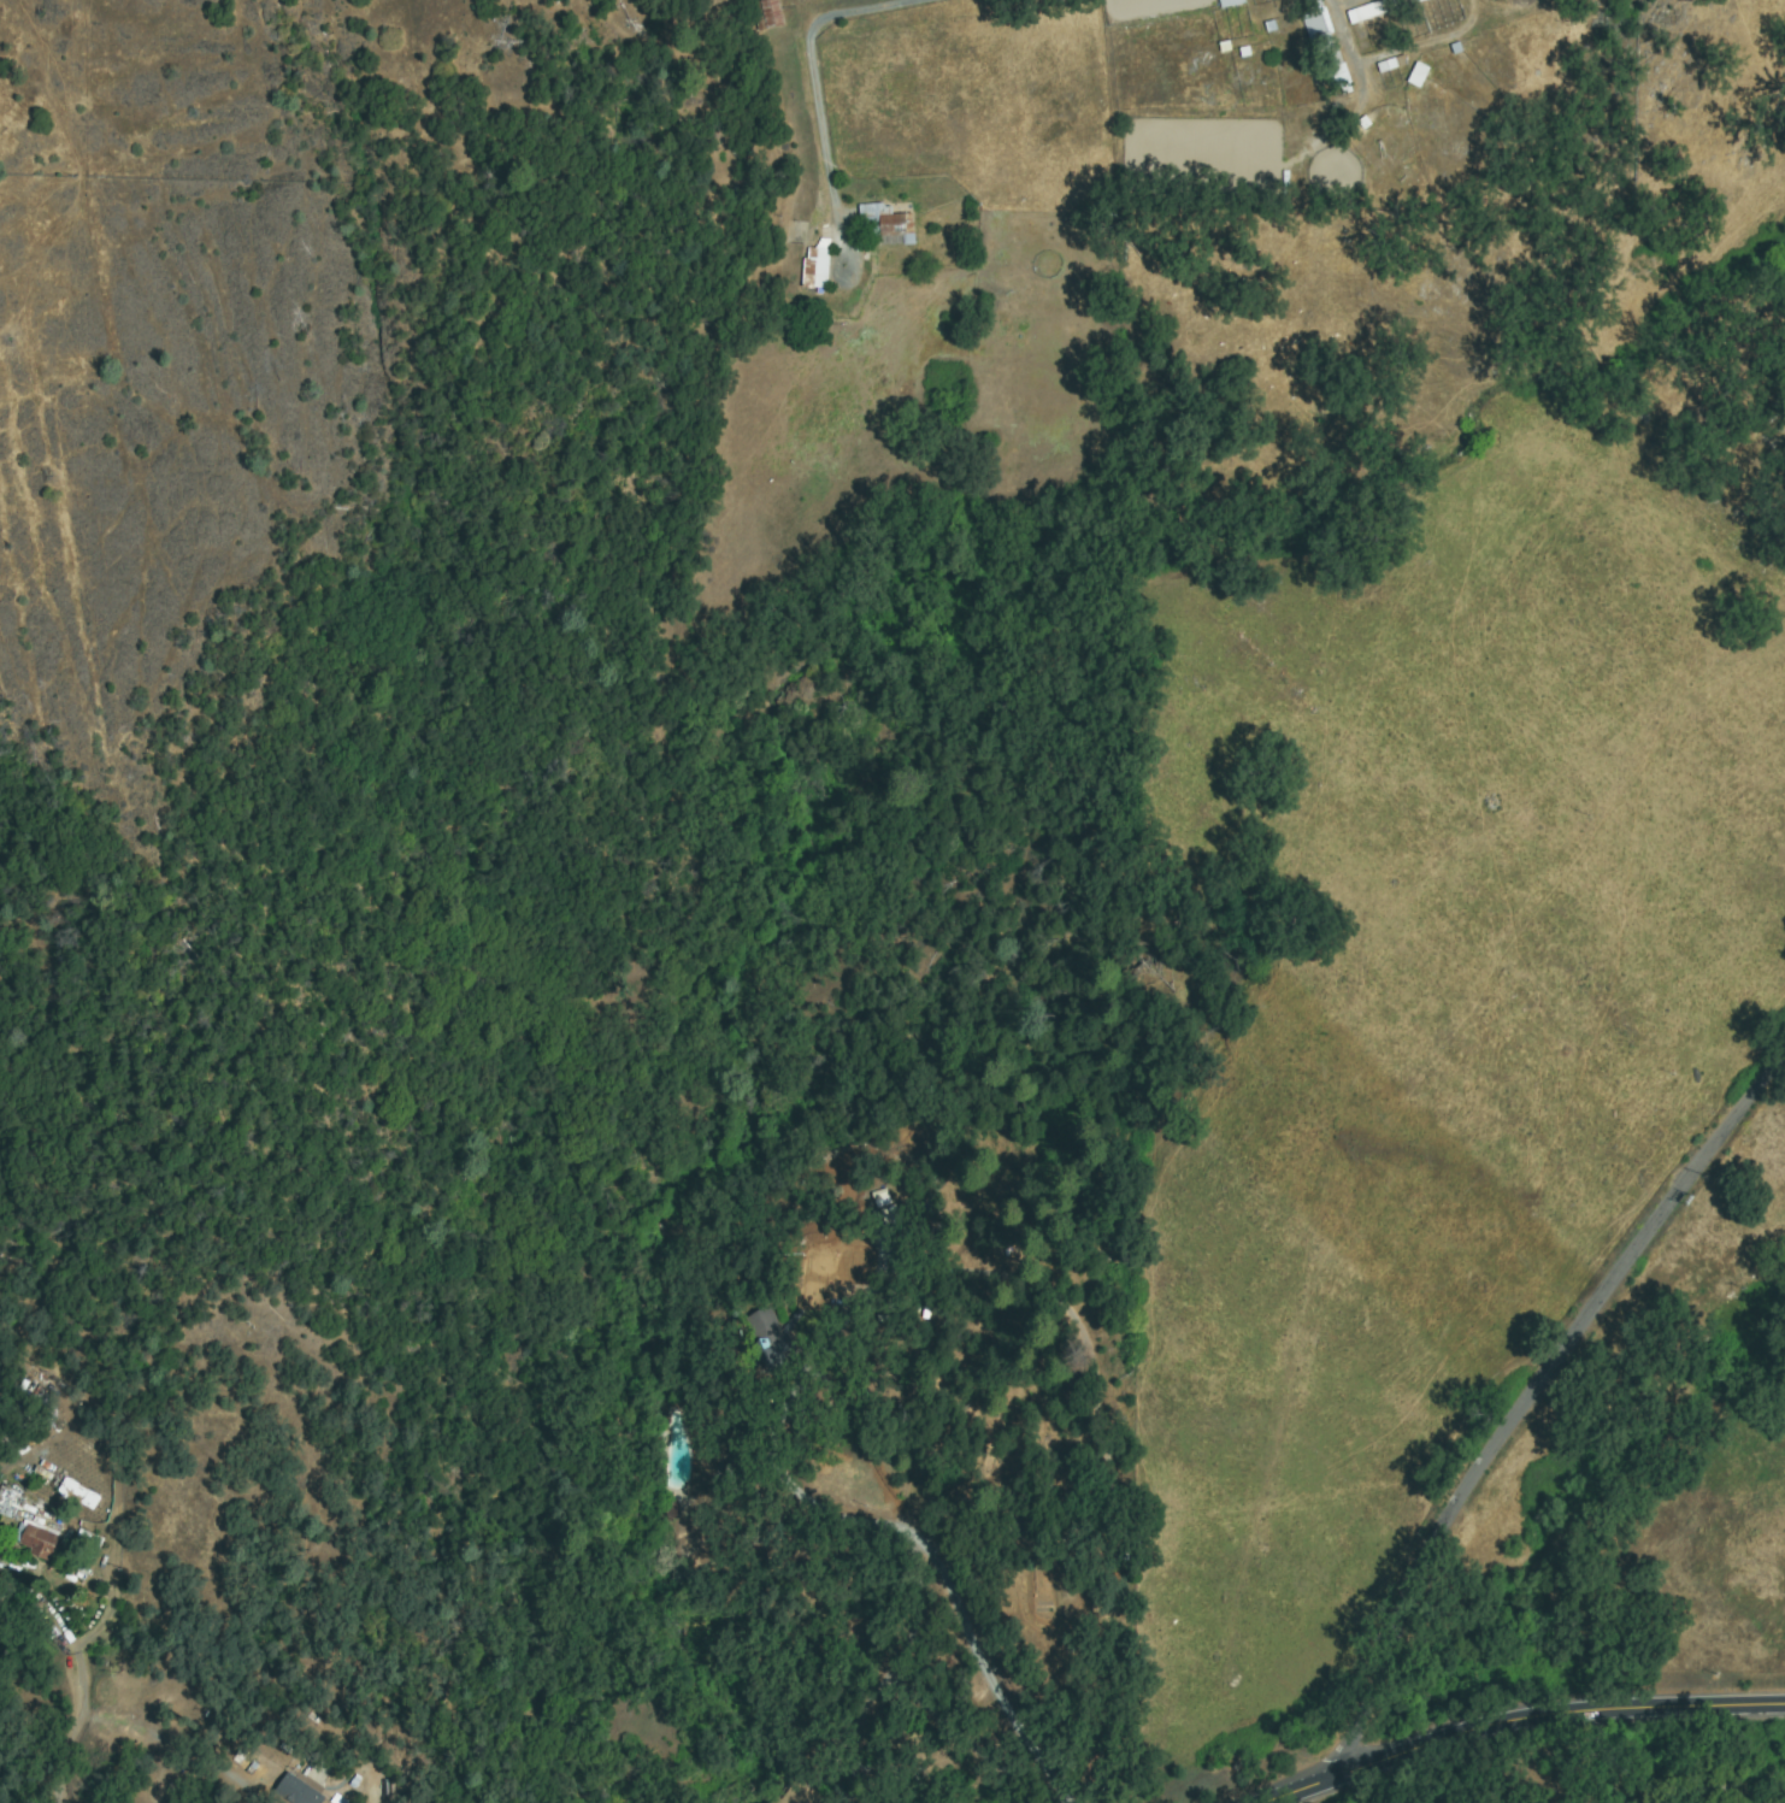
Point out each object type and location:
building: (1227, 1)
building: (1378, 8)
building: (766, 14)
building: (1326, 47)
road: (808, 60)
building: (1390, 64)
building: (1419, 75)
building: (886, 223)
building: (808, 266)
building: (762, 1316)
road: (1521, 1406)
building: (113, 1442)
building: (75, 1493)
building: (7, 1504)
building: (37, 1540)
road: (965, 1638)
road: (77, 1683)
road: (1519, 1726)
building: (859, 1768)
building: (296, 1792)
building: (796, 1793)

